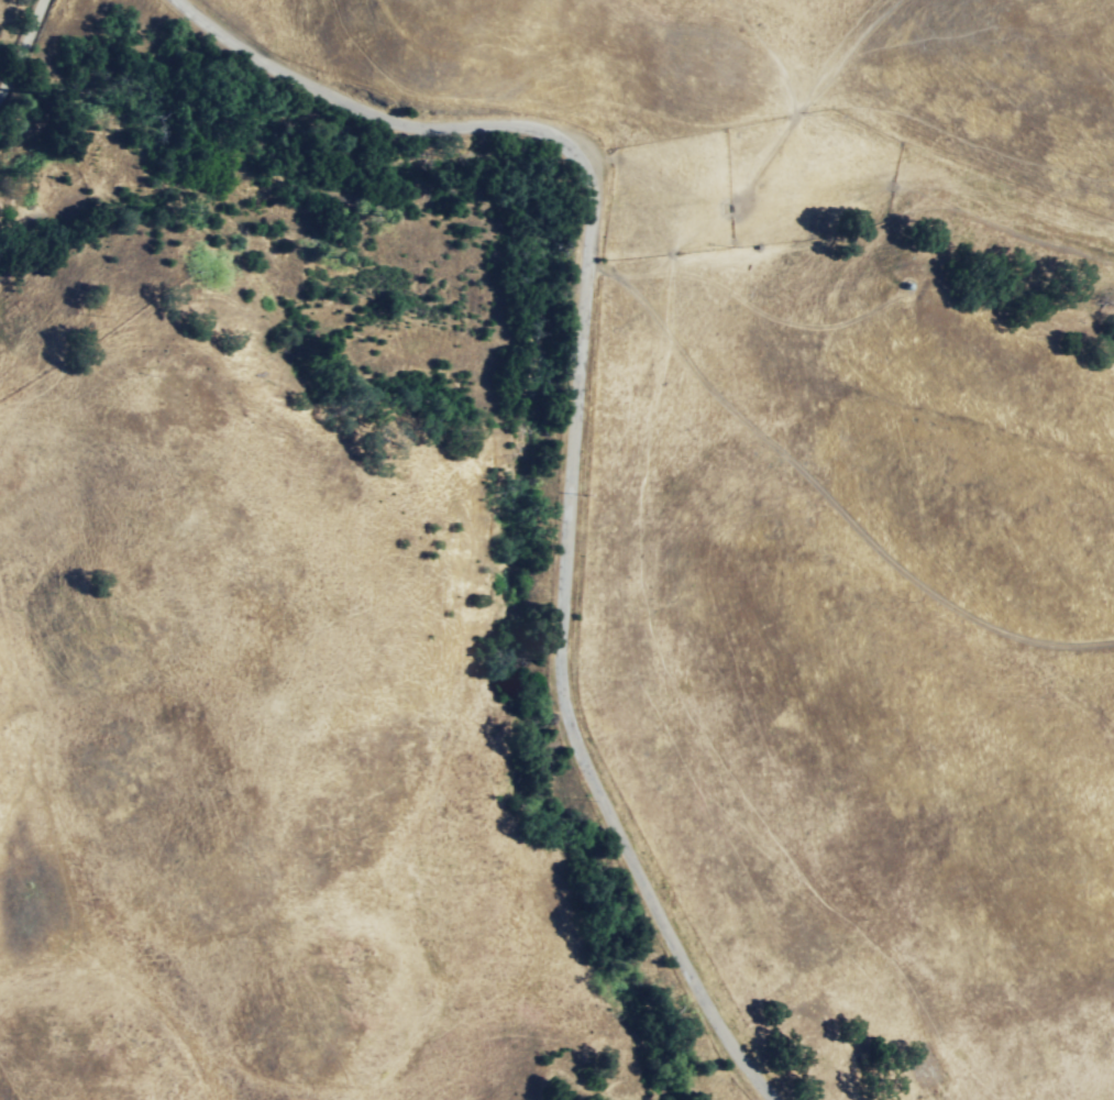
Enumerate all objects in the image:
road: (18, 41)
road: (567, 428)

